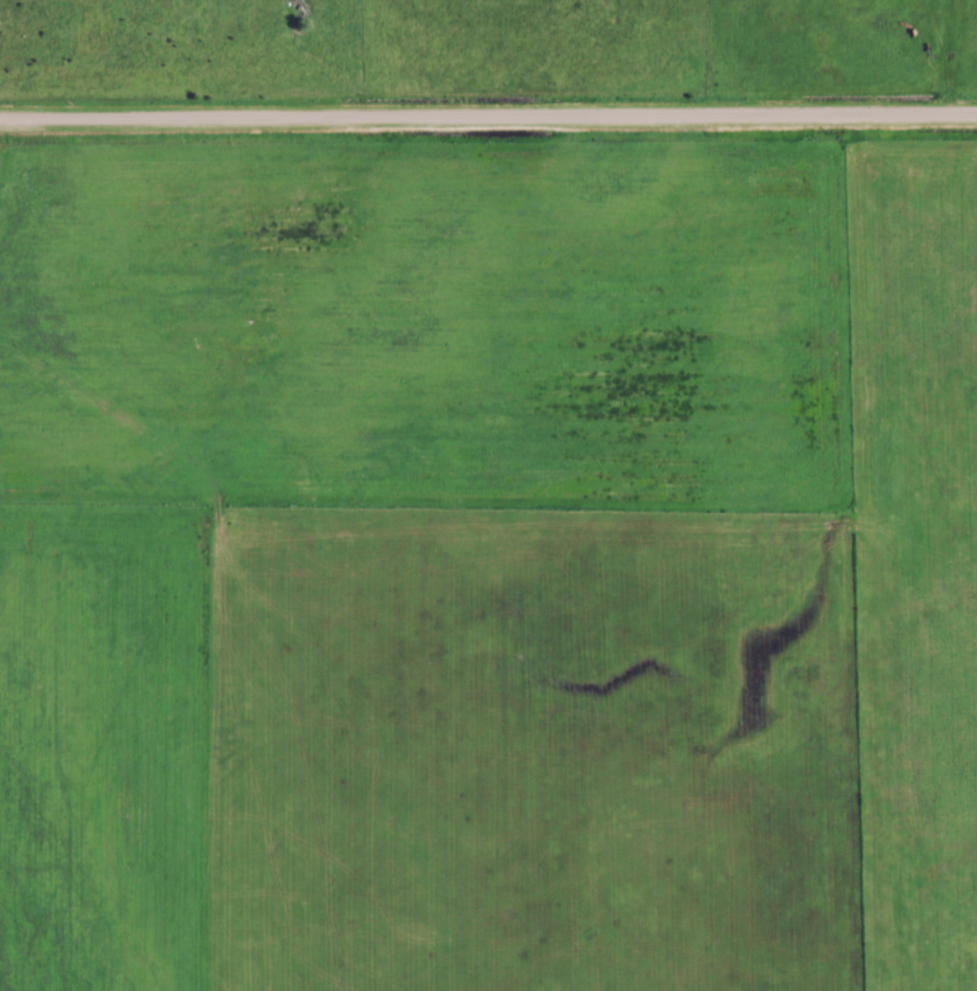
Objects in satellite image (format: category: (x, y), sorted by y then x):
road: (488, 118)

